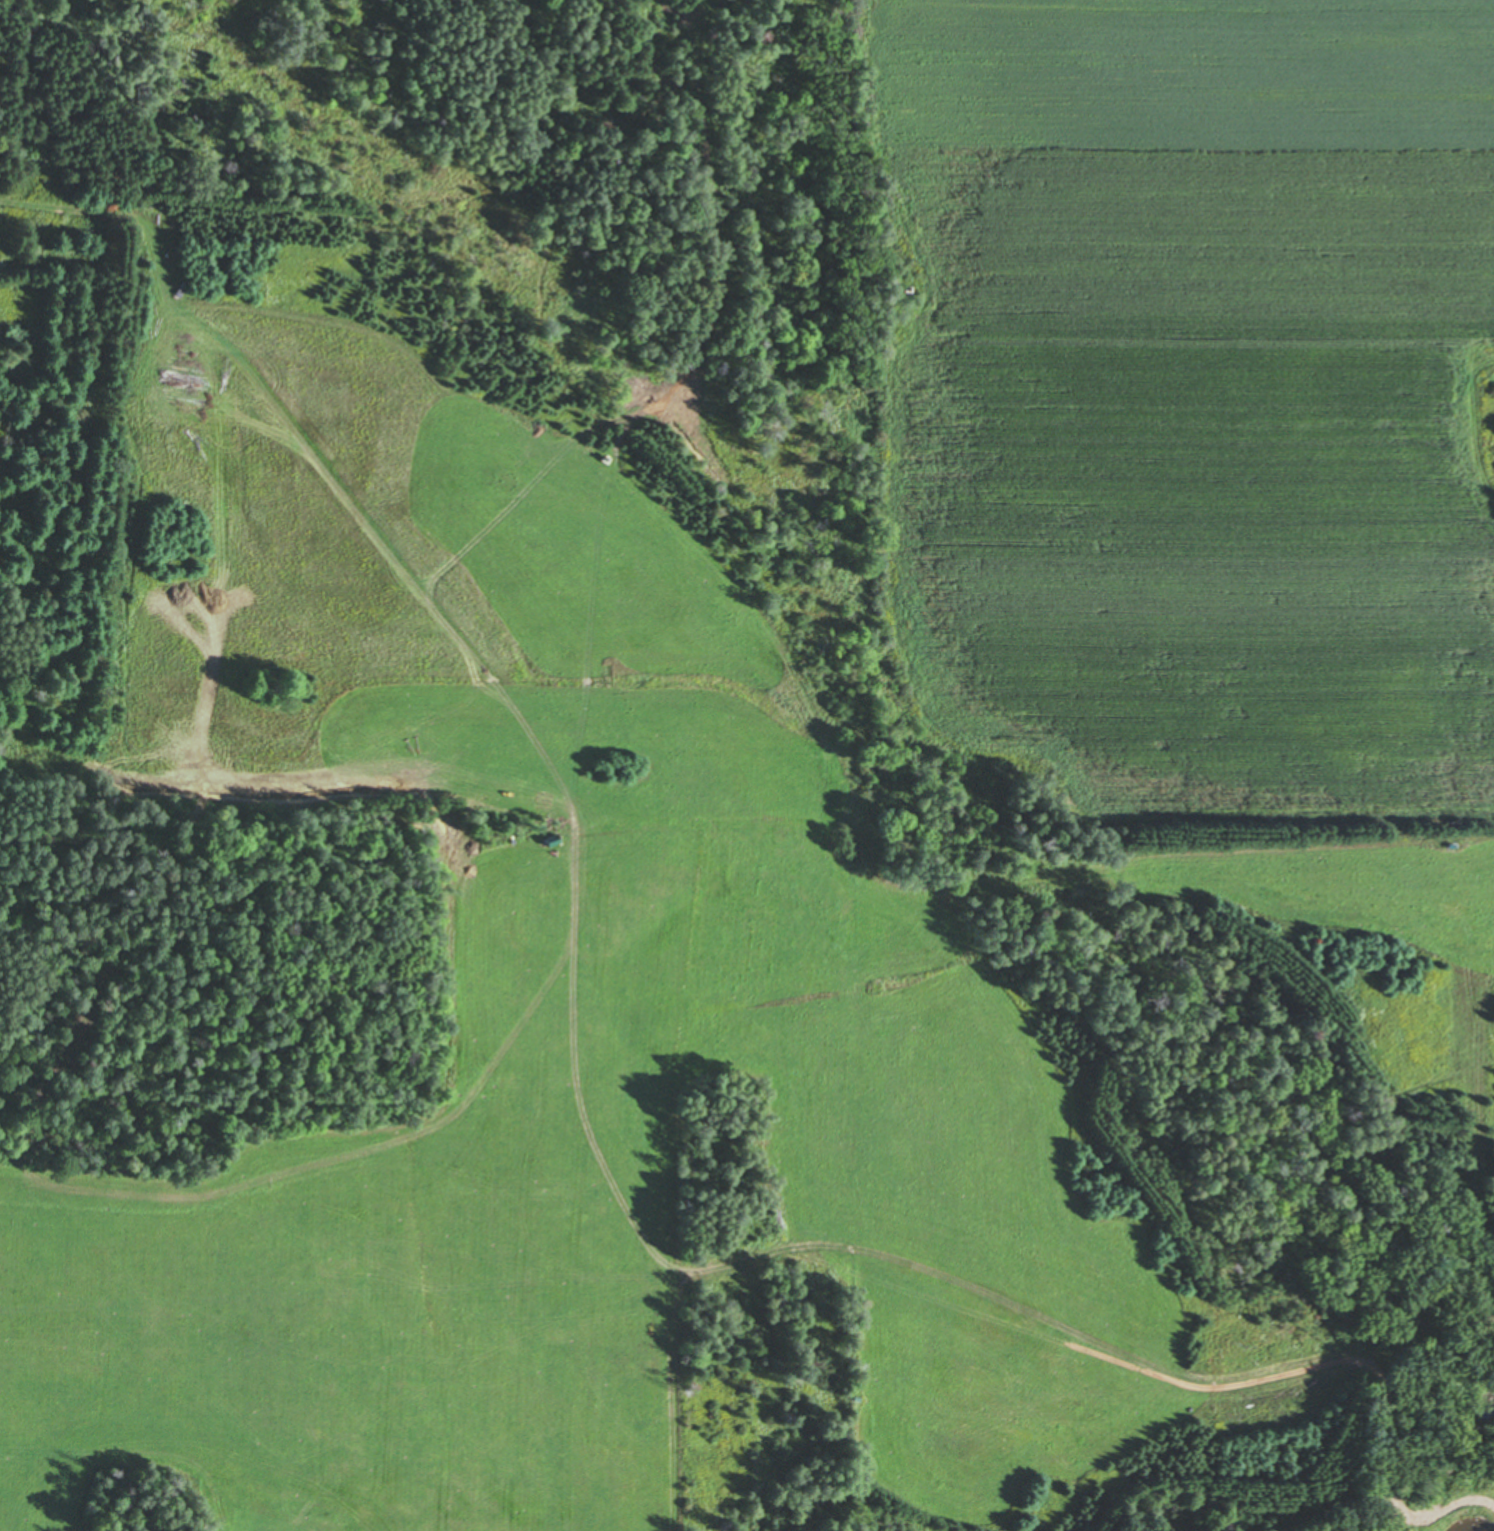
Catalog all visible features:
river: (1487, 1529)

